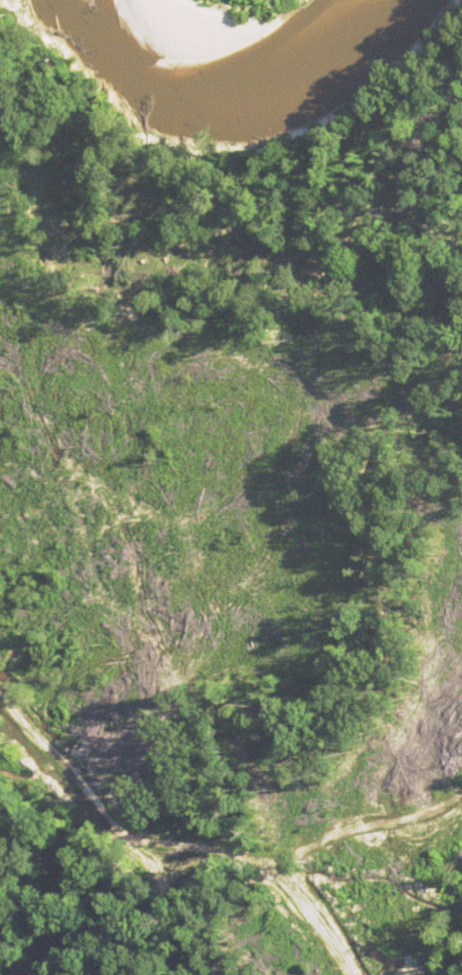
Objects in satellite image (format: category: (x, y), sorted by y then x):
river: (291, 44)

